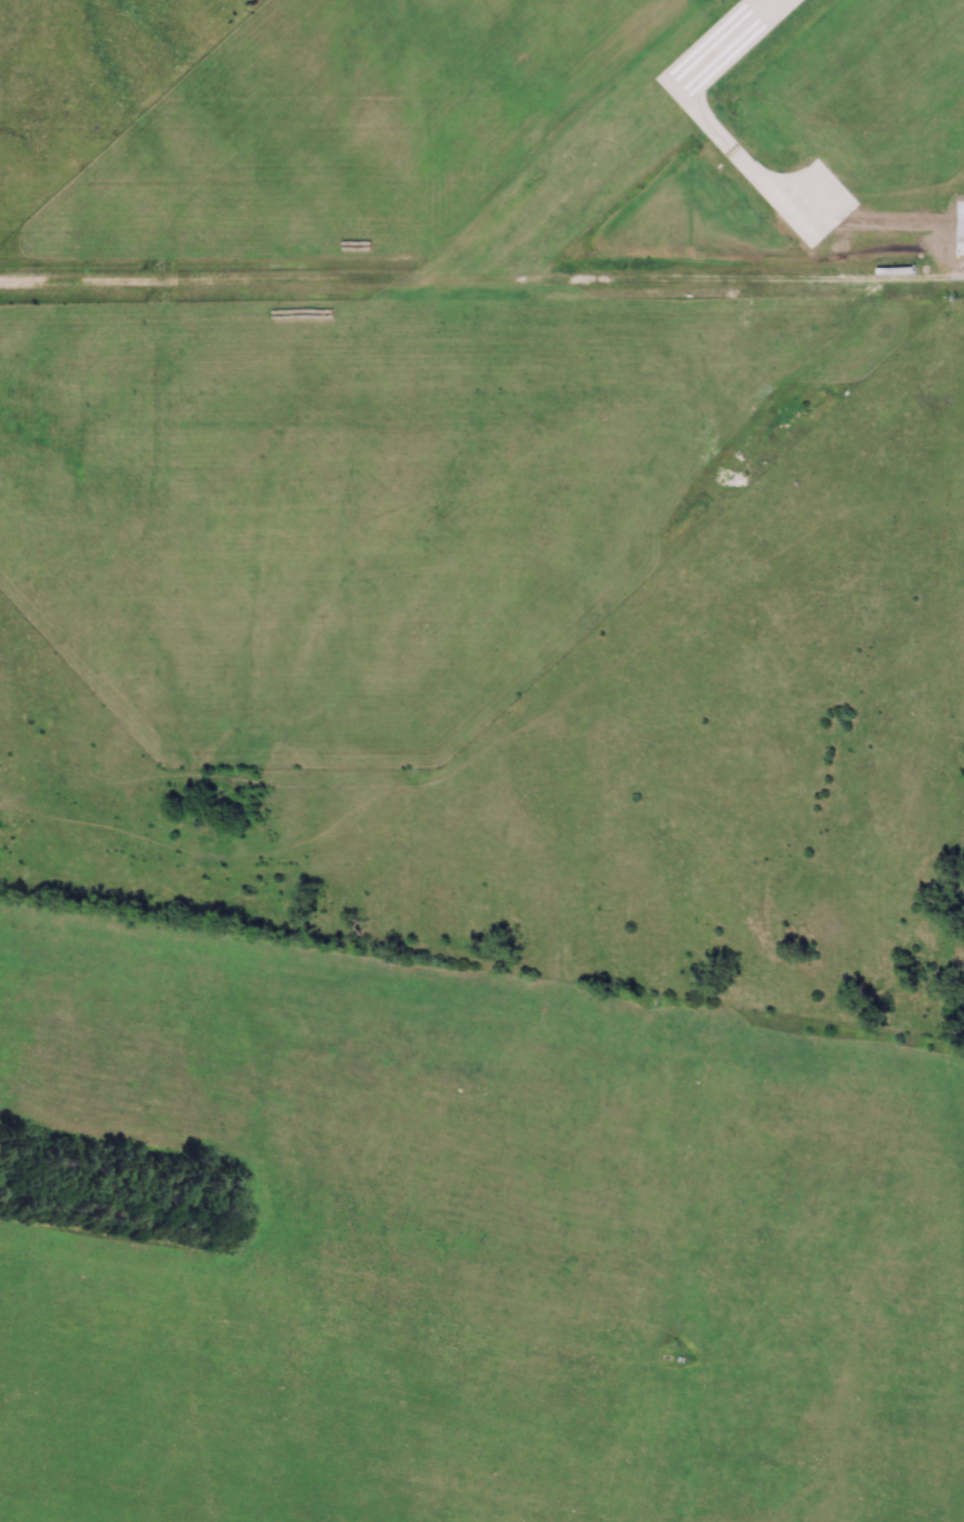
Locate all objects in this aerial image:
airport runway: (722, 48)
airport: (756, 140)
airport taxiway: (748, 160)
road: (482, 279)

